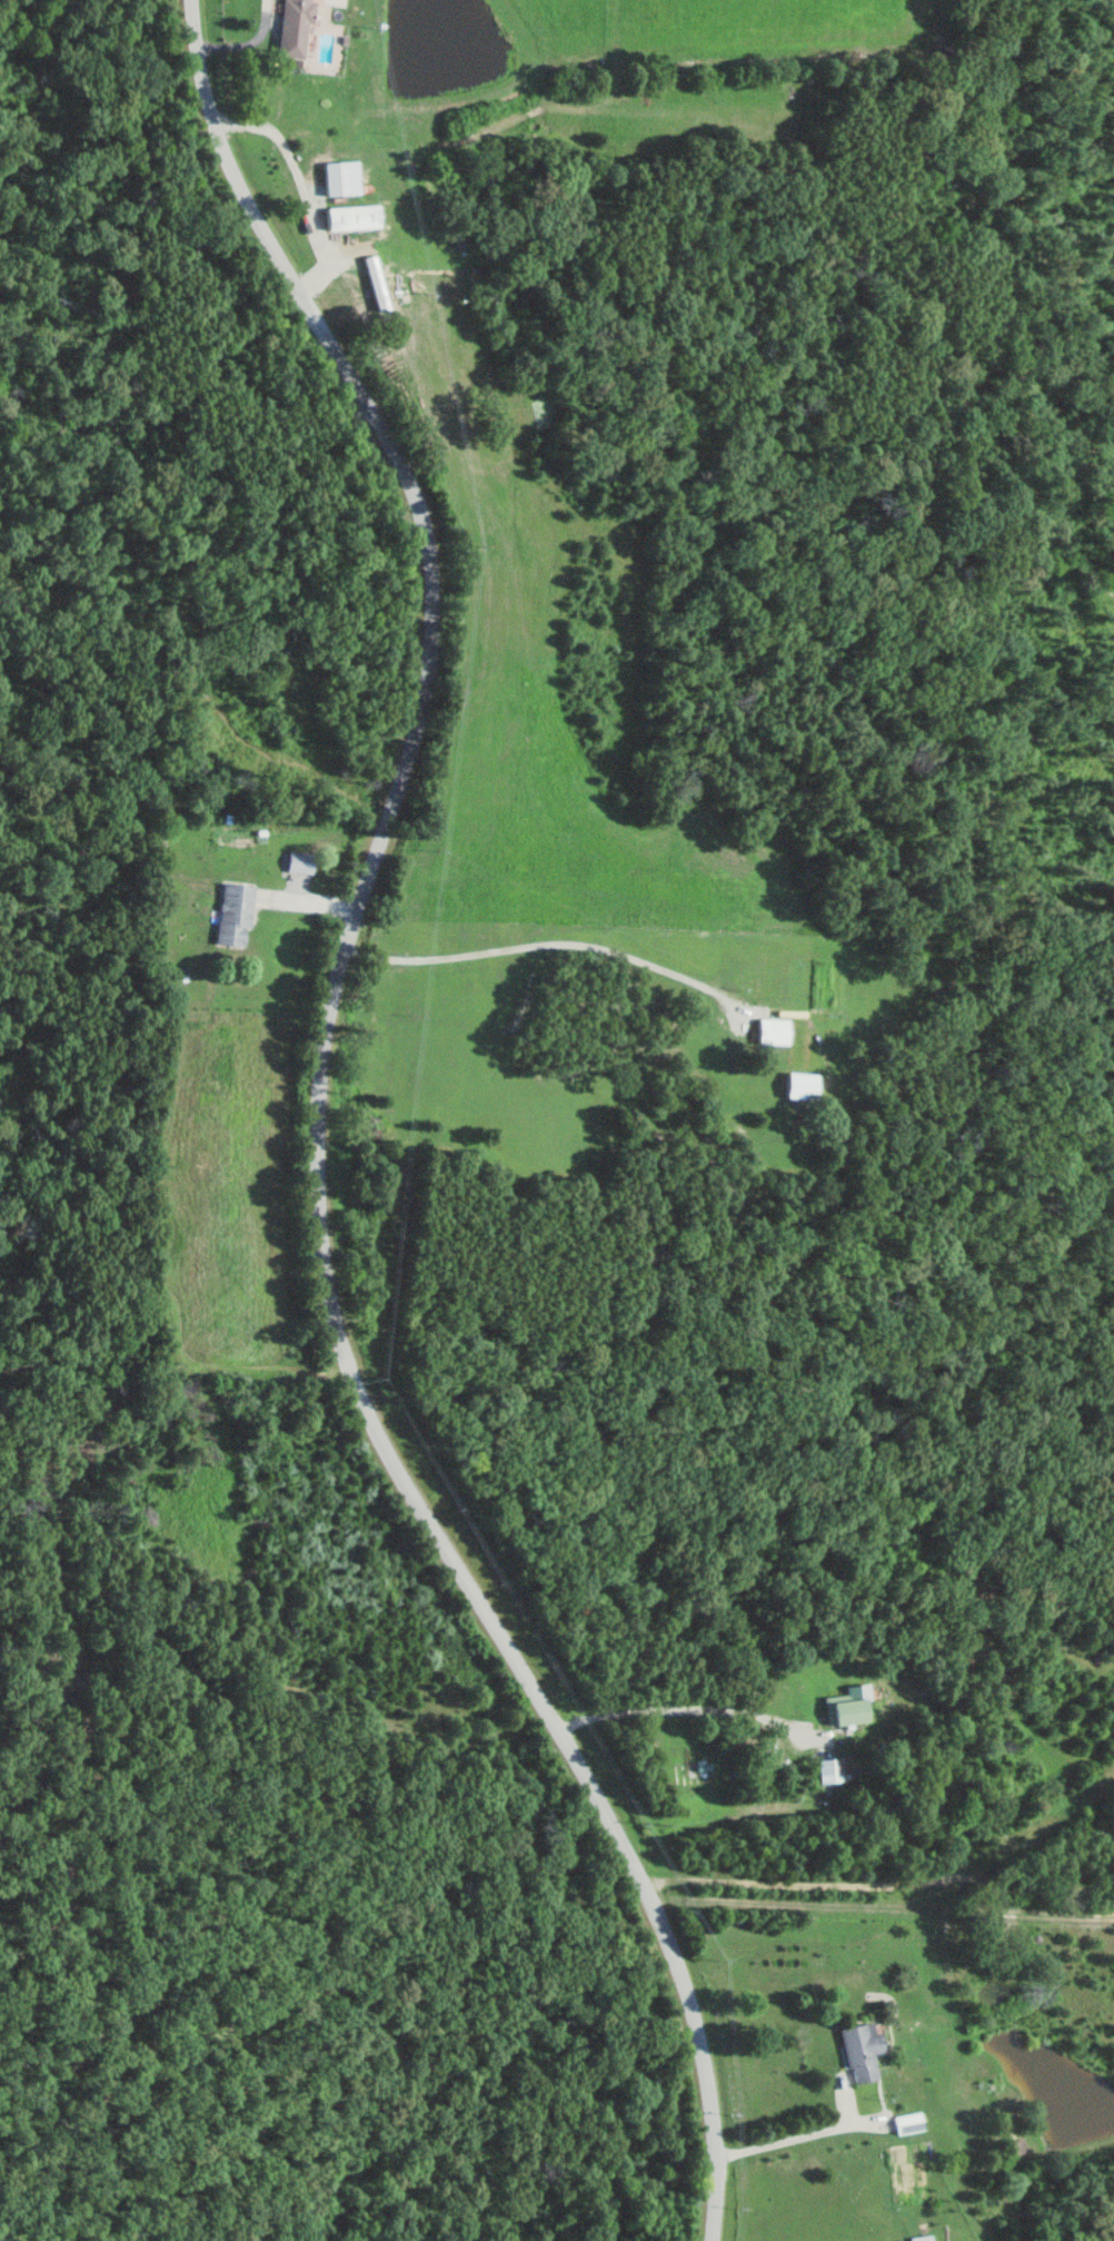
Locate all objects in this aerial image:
building: (294, 29)
building: (340, 178)
building: (351, 217)
building: (233, 914)
road: (547, 941)
building: (773, 1029)
building: (803, 1083)
road: (320, 1133)
building: (845, 1707)
building: (829, 1769)
building: (693, 1771)
road: (878, 1880)
building: (861, 2050)
road: (795, 2136)

